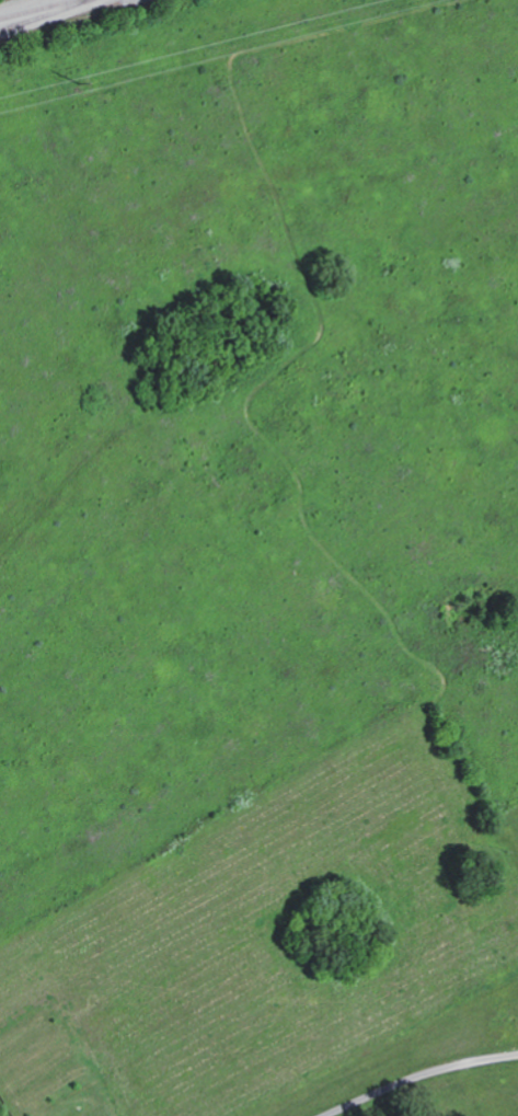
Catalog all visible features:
railway: (37, 9)
railway: (44, 15)
crop: (283, 931)
road: (416, 1078)

